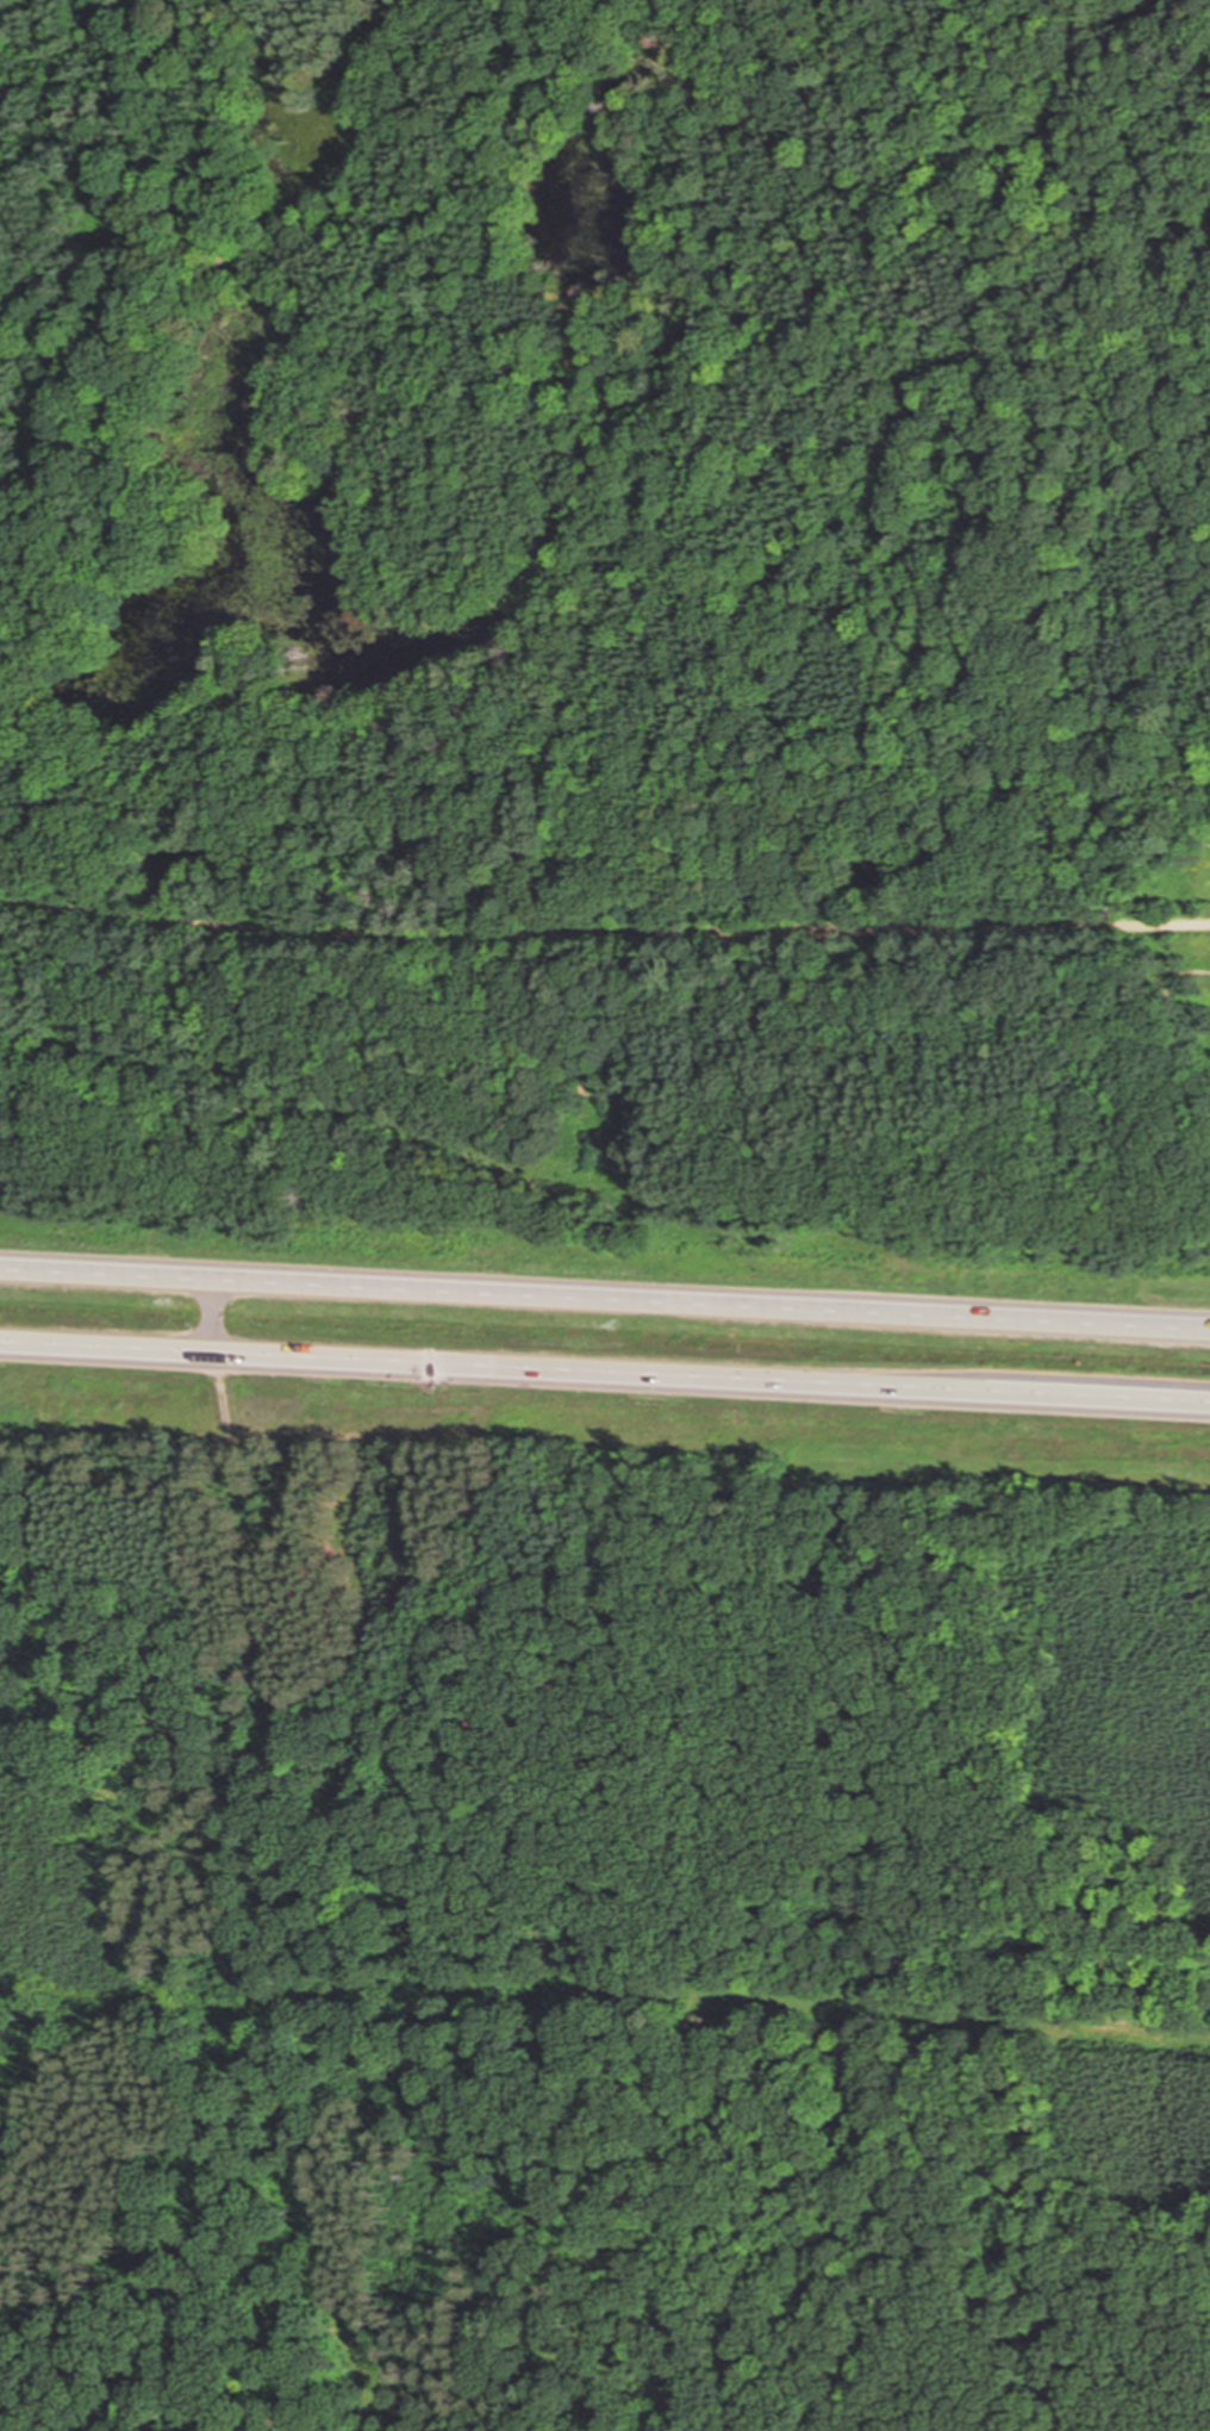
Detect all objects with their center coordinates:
road: (644, 524)
road: (604, 938)
road: (605, 1299)
road: (208, 1312)
road: (604, 1366)

